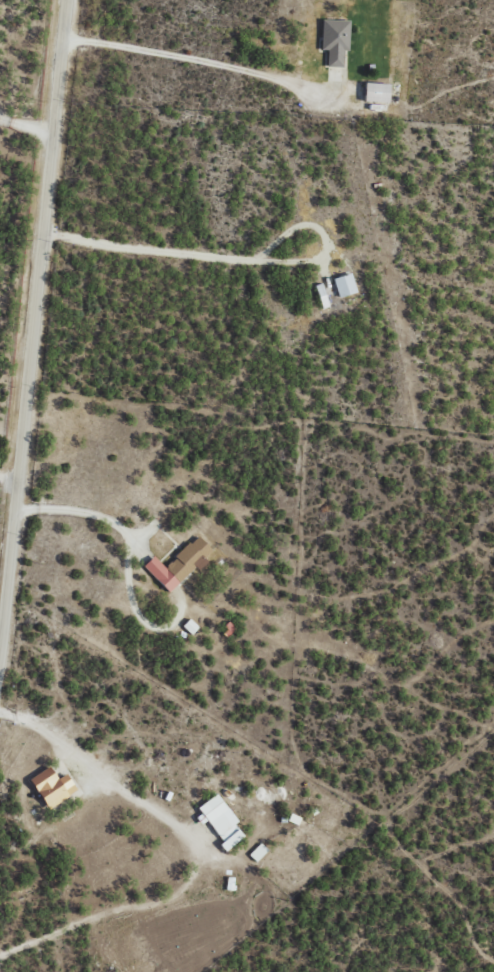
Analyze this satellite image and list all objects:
building: (336, 40)
building: (378, 93)
road: (31, 214)
building: (345, 285)
building: (323, 295)
building: (179, 565)
building: (191, 626)
building: (53, 787)
building: (222, 821)
building: (259, 852)

